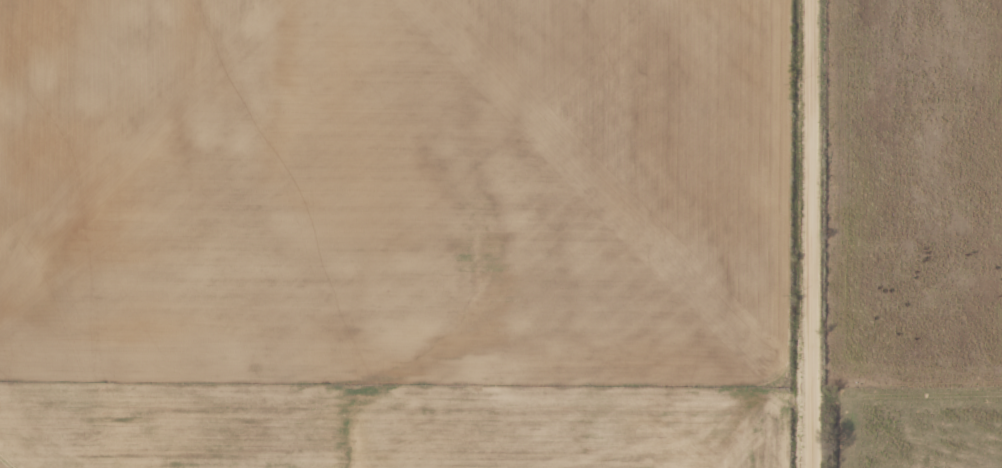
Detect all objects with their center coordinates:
road: (816, 234)

